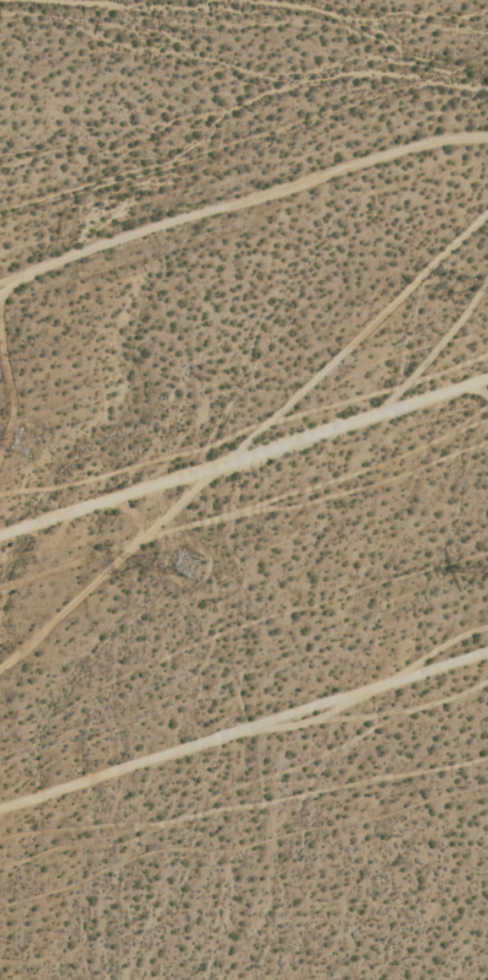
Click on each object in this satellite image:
power tower: (34, 436)
road: (249, 438)
road: (243, 445)
power tower: (191, 568)
road: (244, 723)

